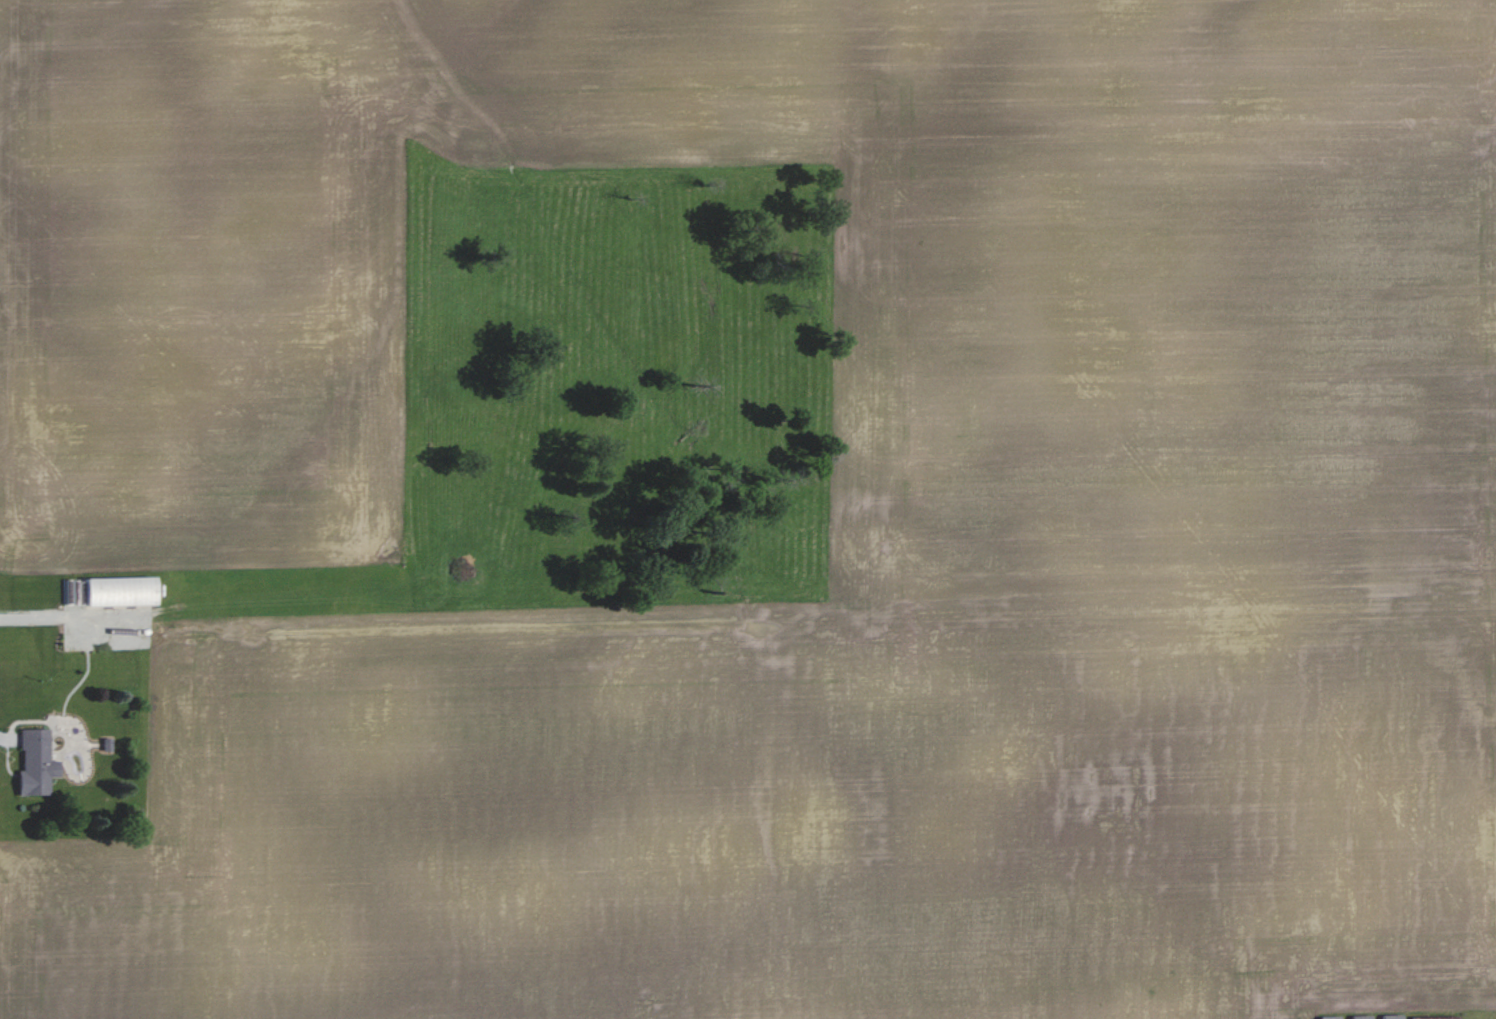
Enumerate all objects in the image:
building: (121, 591)
building: (36, 763)

